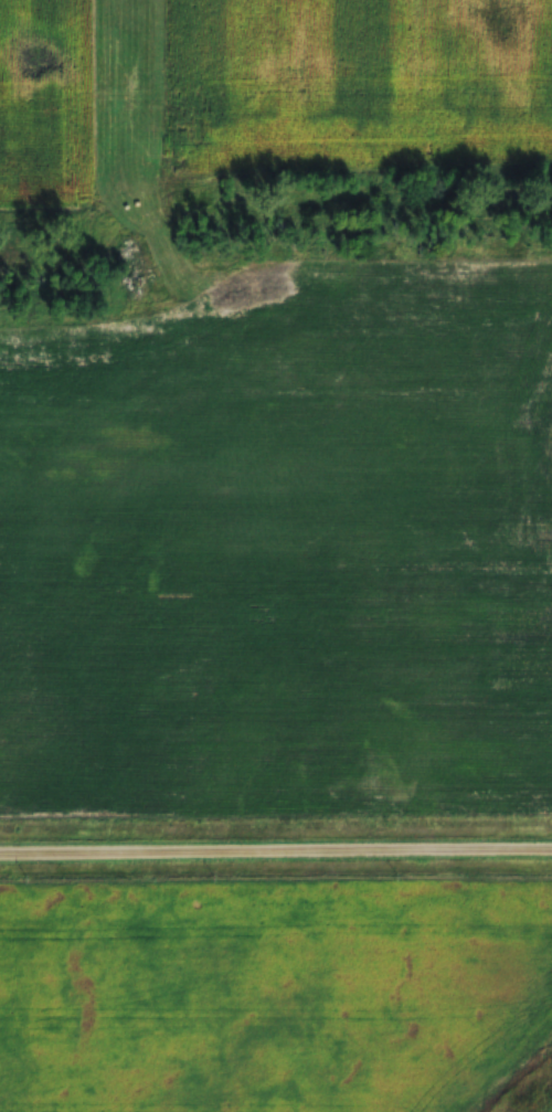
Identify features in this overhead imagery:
road: (276, 850)

